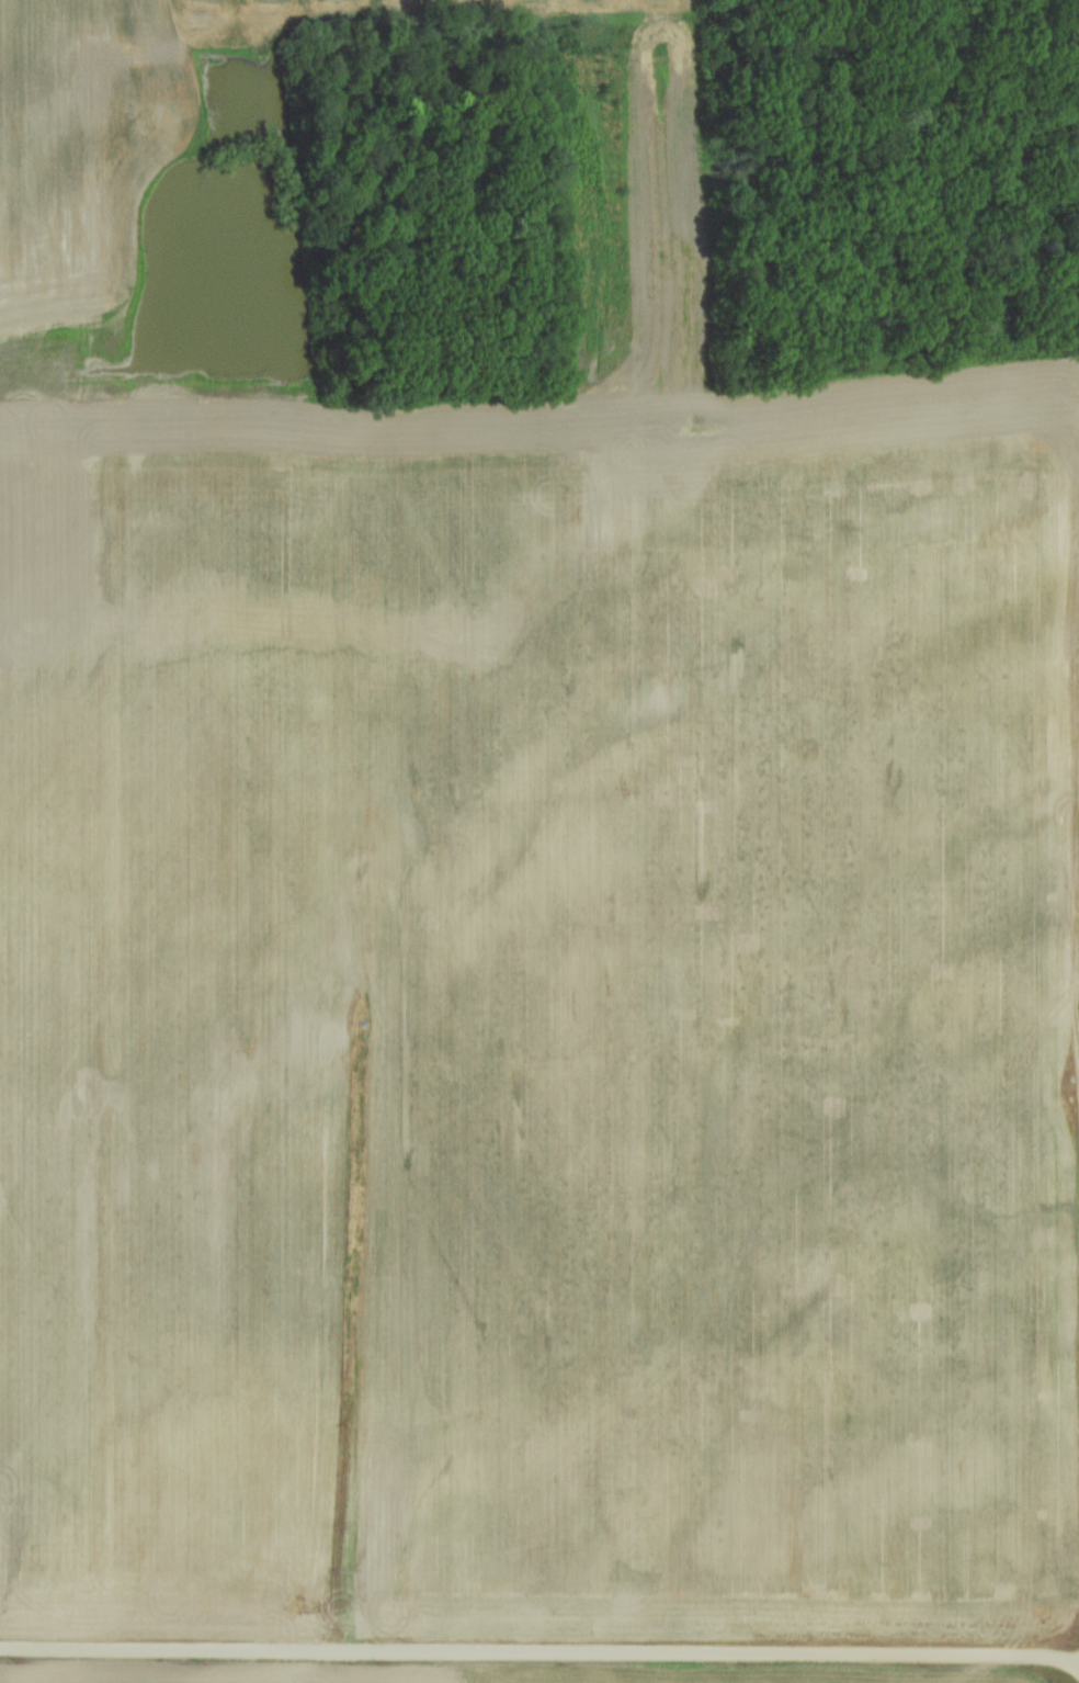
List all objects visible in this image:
road: (1075, 912)
road: (539, 1652)

